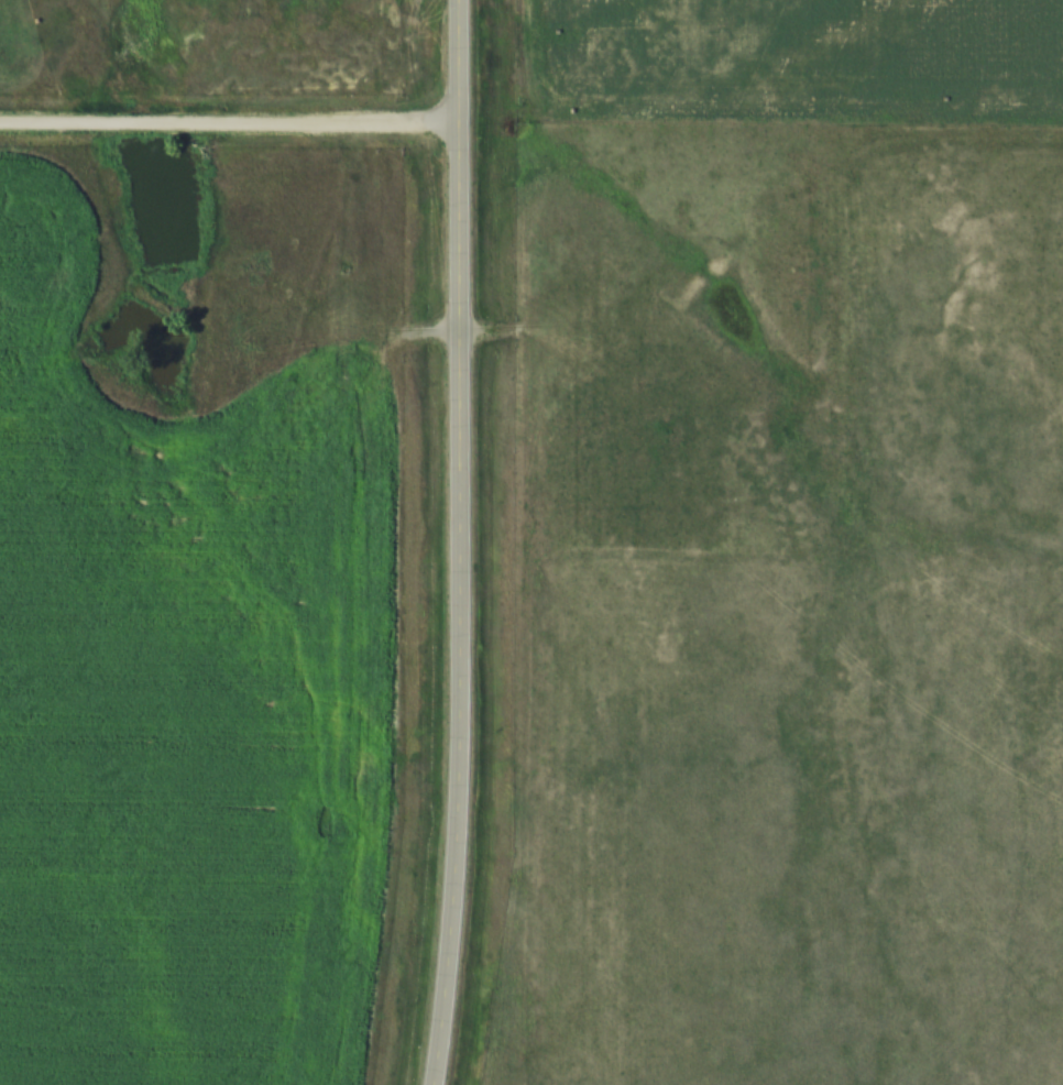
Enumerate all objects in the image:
road: (224, 108)
road: (450, 542)

